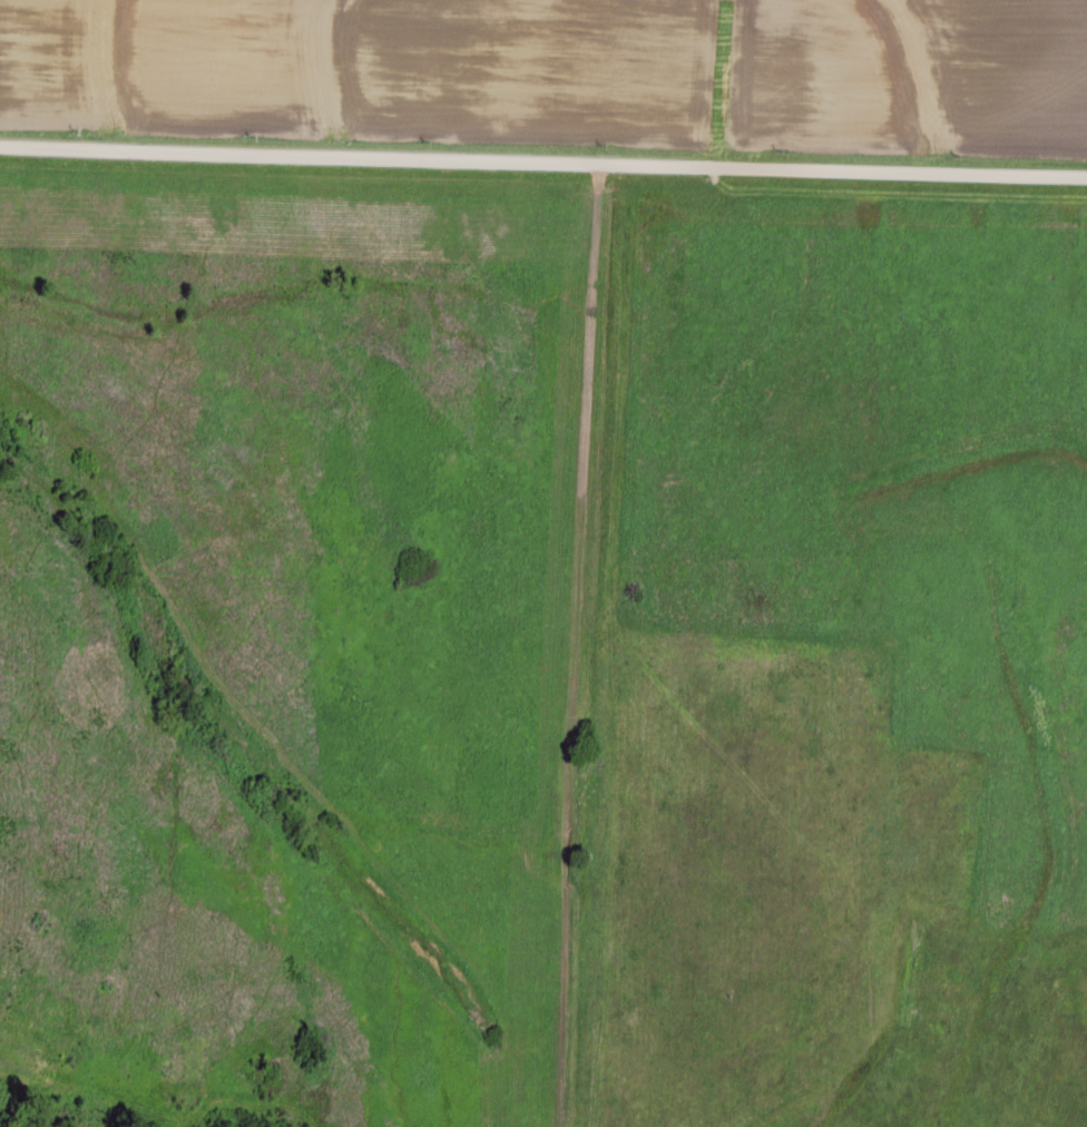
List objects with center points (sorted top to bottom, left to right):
road: (543, 161)

